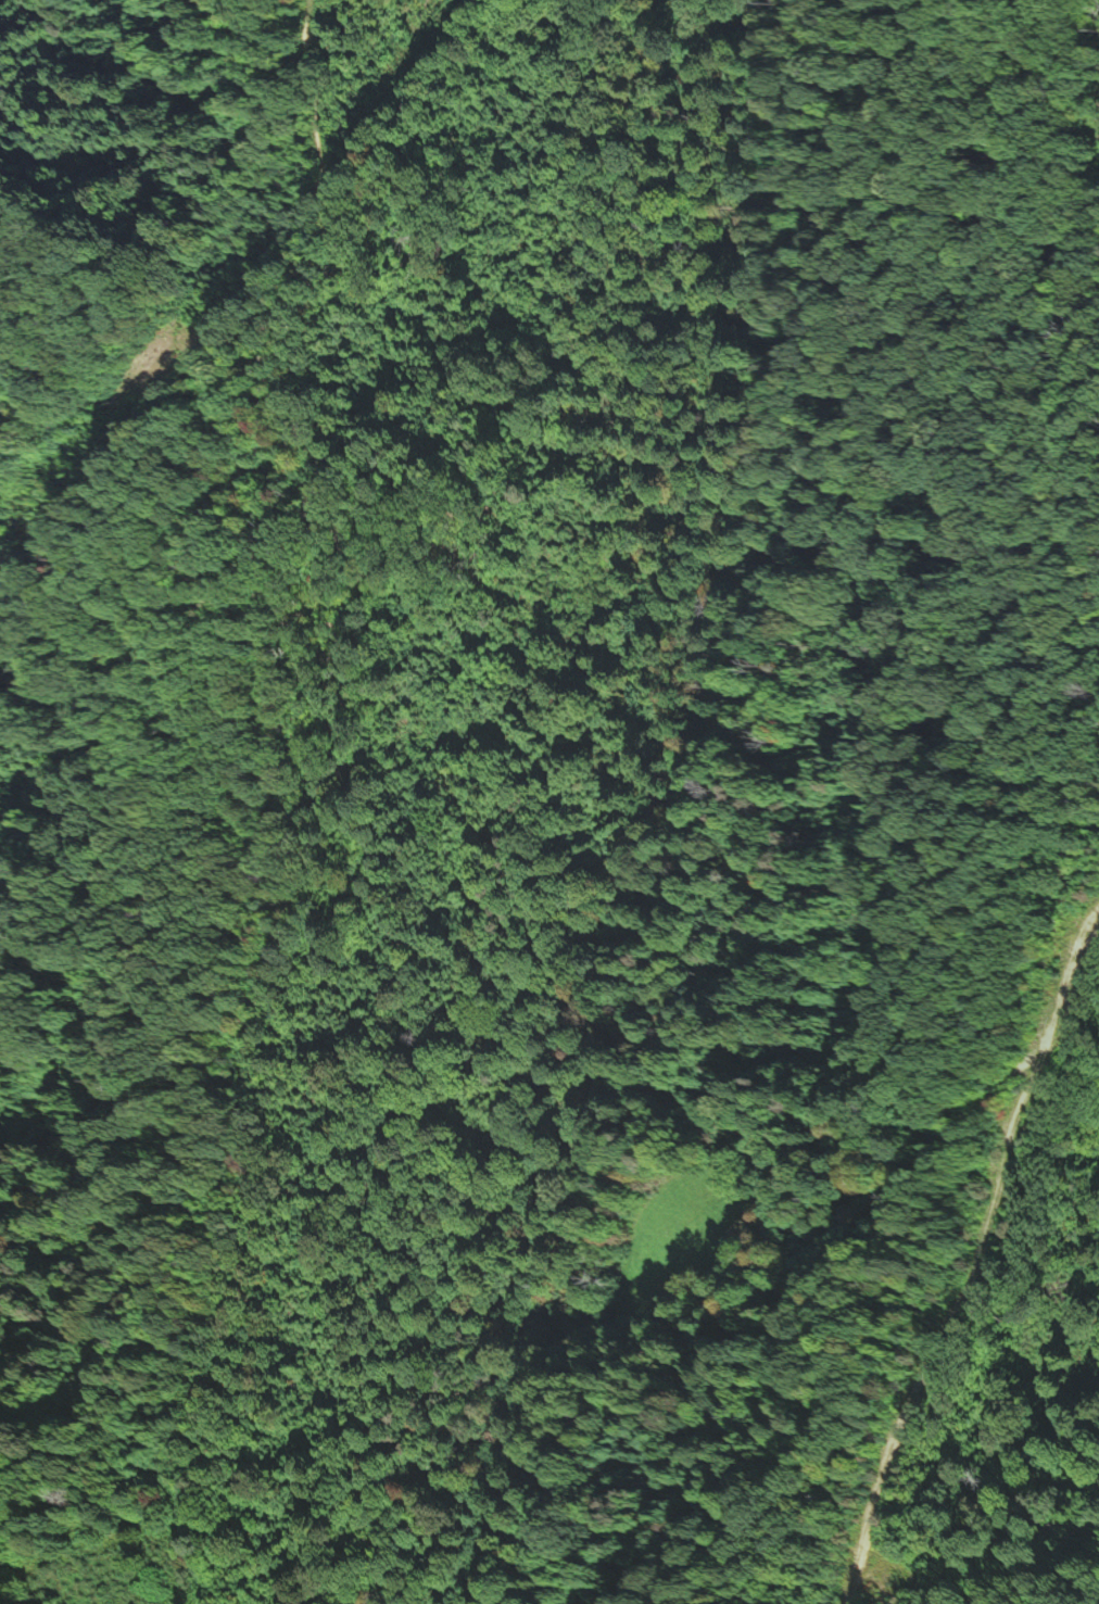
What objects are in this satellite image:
road: (985, 1266)

